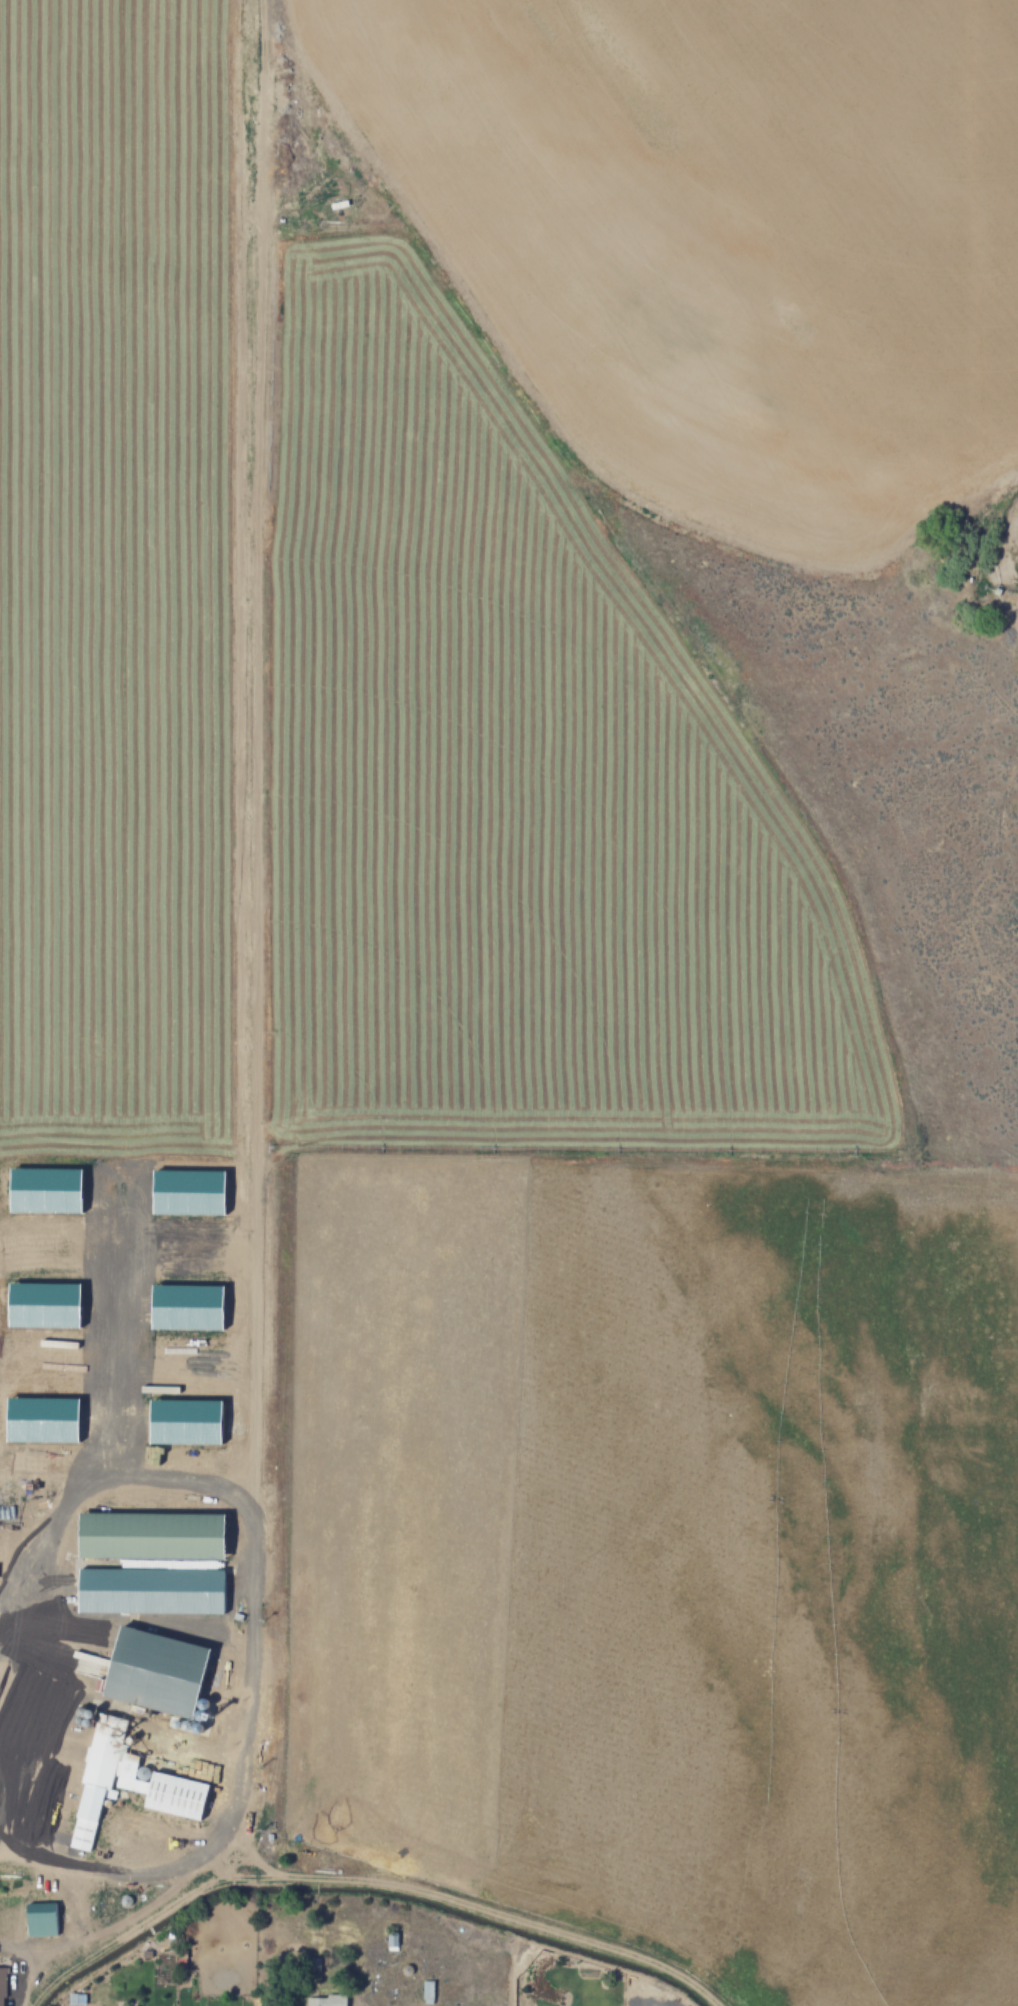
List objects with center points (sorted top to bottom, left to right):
crop: (509, 1003)
building: (48, 1189)
building: (191, 1192)
building: (46, 1305)
building: (189, 1306)
building: (44, 1419)
building: (188, 1421)
building: (150, 1536)
building: (152, 1590)
building: (159, 1672)
building: (126, 1781)
building: (40, 1919)
building: (2, 1989)
building: (426, 1992)
building: (325, 2000)

